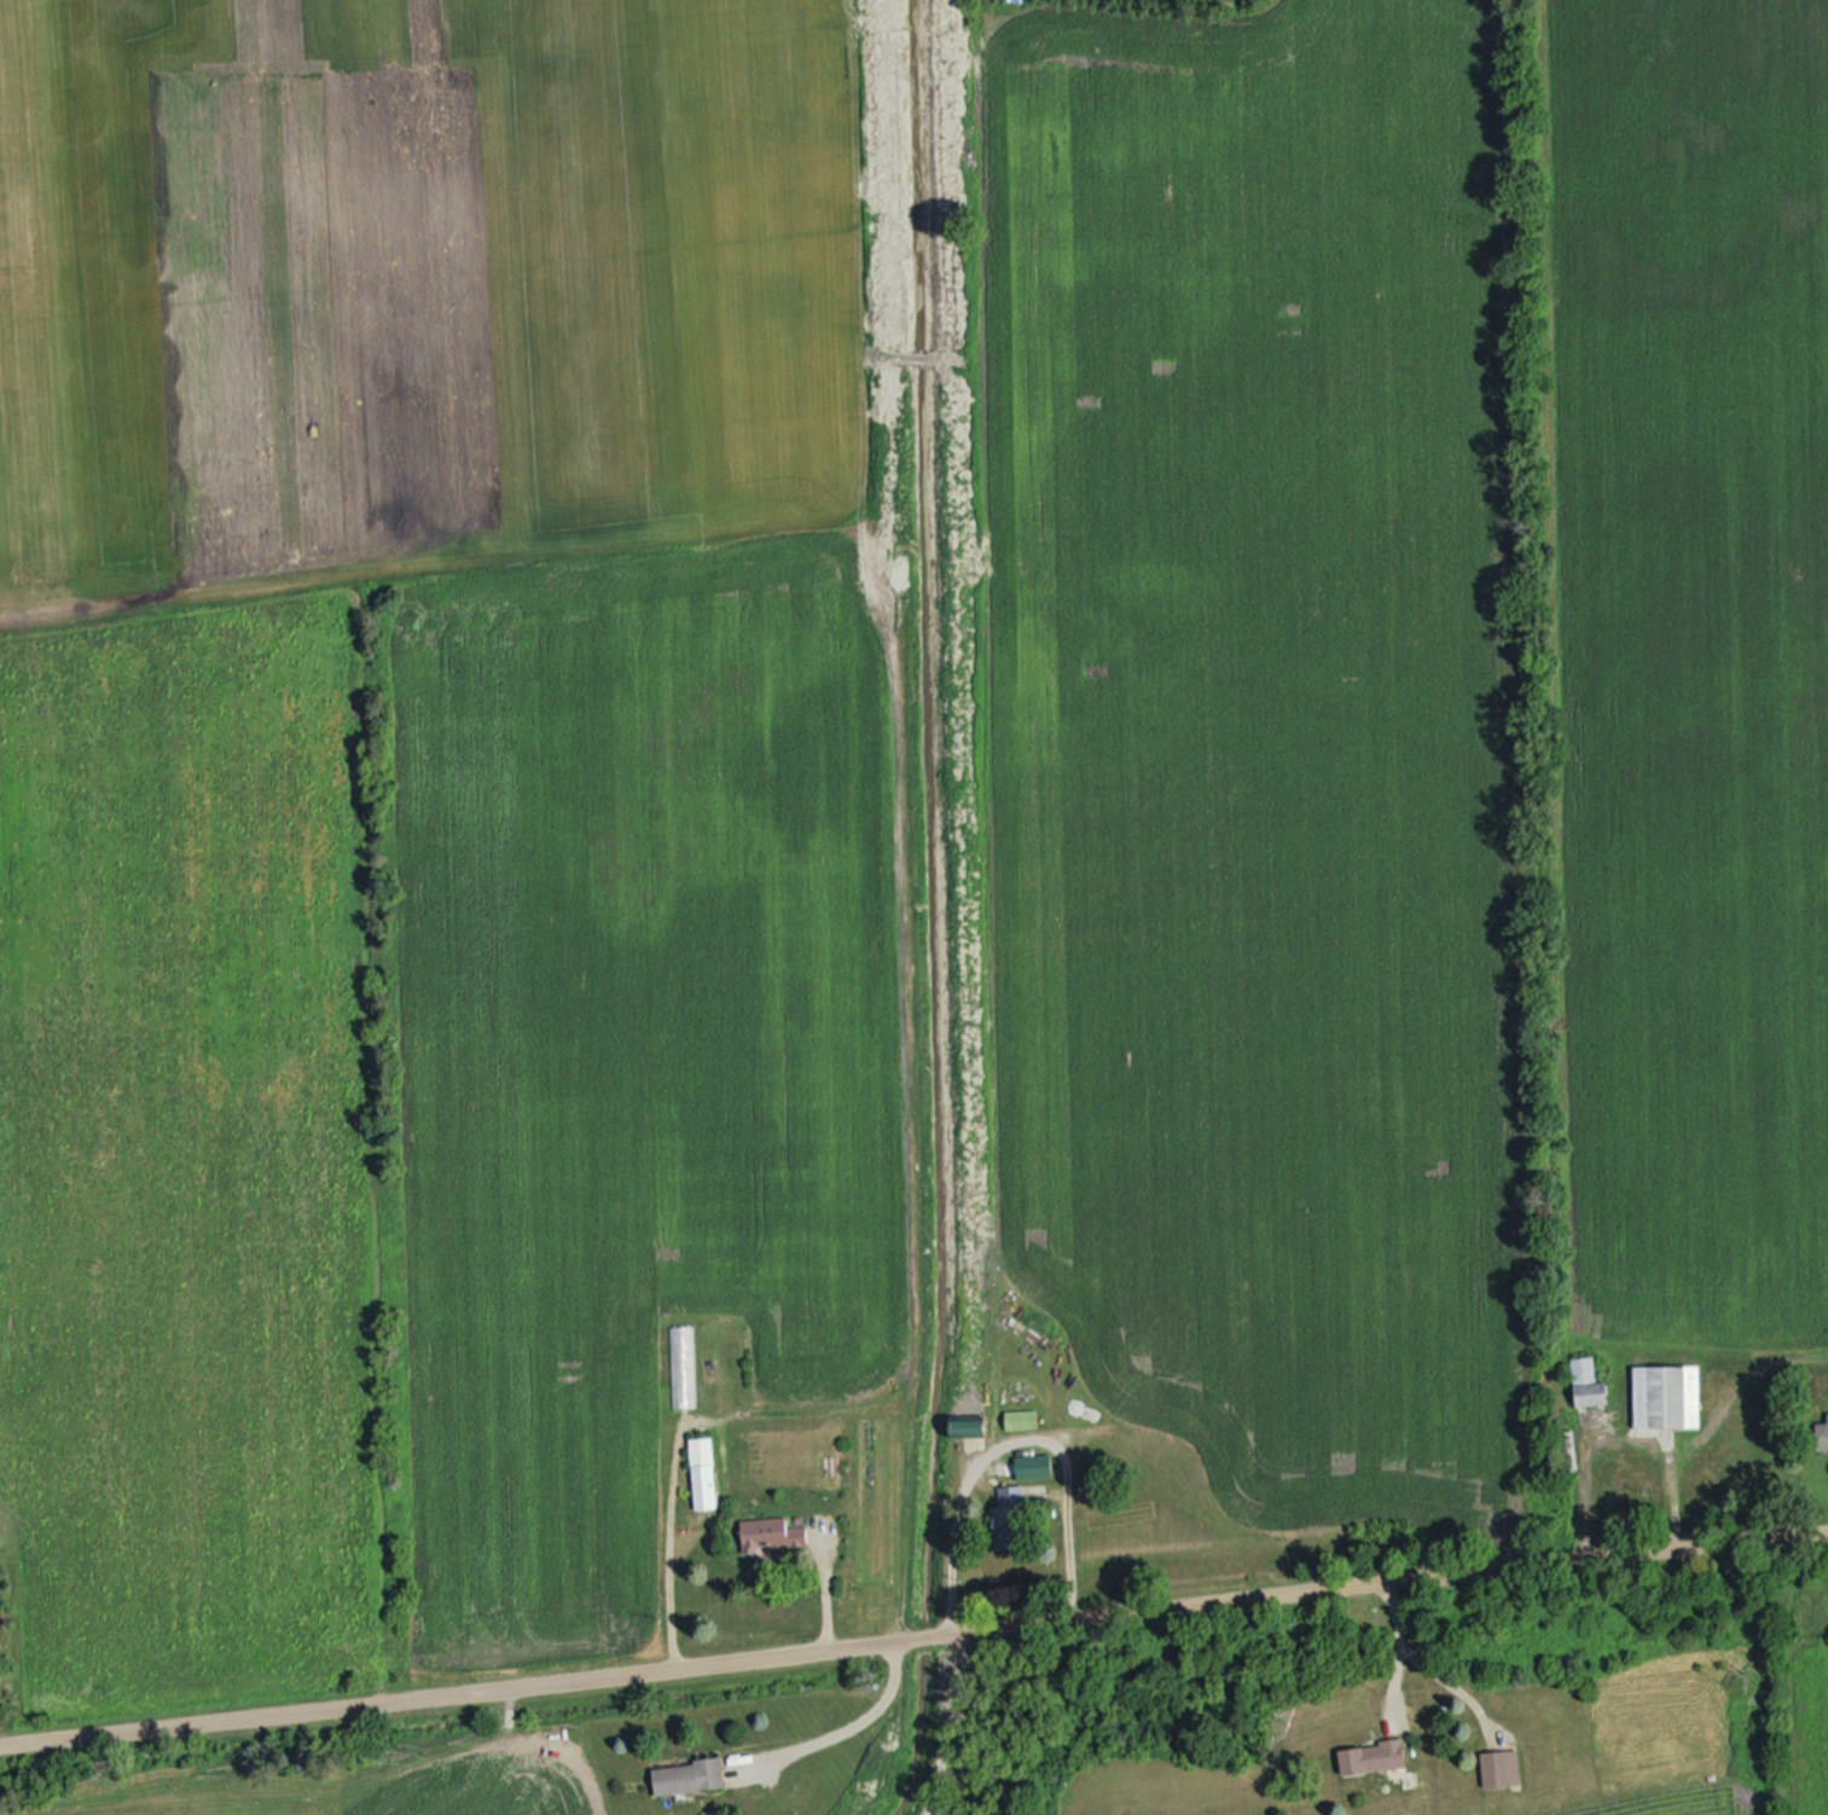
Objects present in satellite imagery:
building: (681, 1365)
building: (1667, 1396)
building: (1827, 1415)
building: (1021, 1420)
building: (968, 1427)
building: (1822, 1436)
road: (1017, 1445)
building: (1035, 1466)
building: (703, 1473)
building: (1027, 1494)
building: (772, 1535)
road: (668, 1544)
road: (913, 1640)
road: (1395, 1645)
road: (849, 1724)
building: (1374, 1758)
building: (1496, 1769)
building: (689, 1778)

